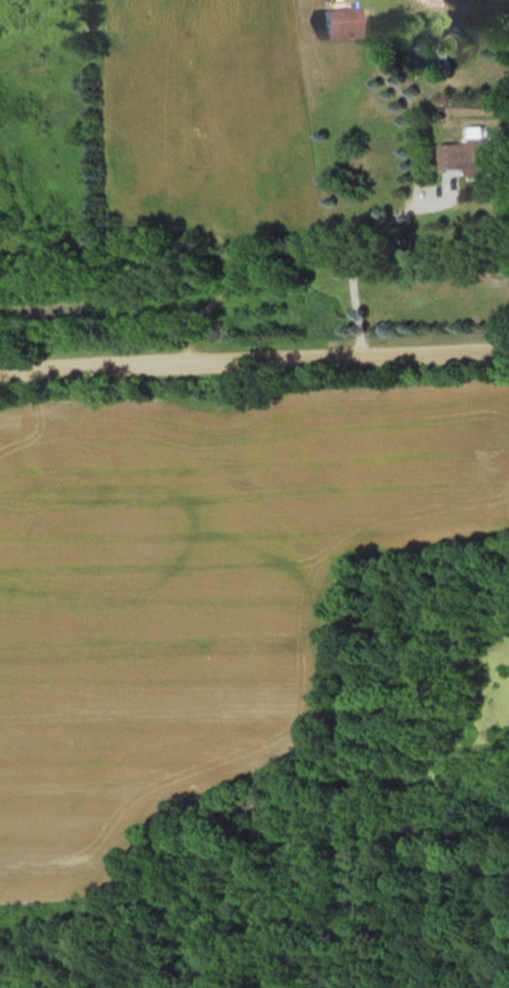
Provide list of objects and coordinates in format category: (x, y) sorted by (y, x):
building: (336, 22)
building: (471, 153)
road: (362, 244)
road: (254, 350)

